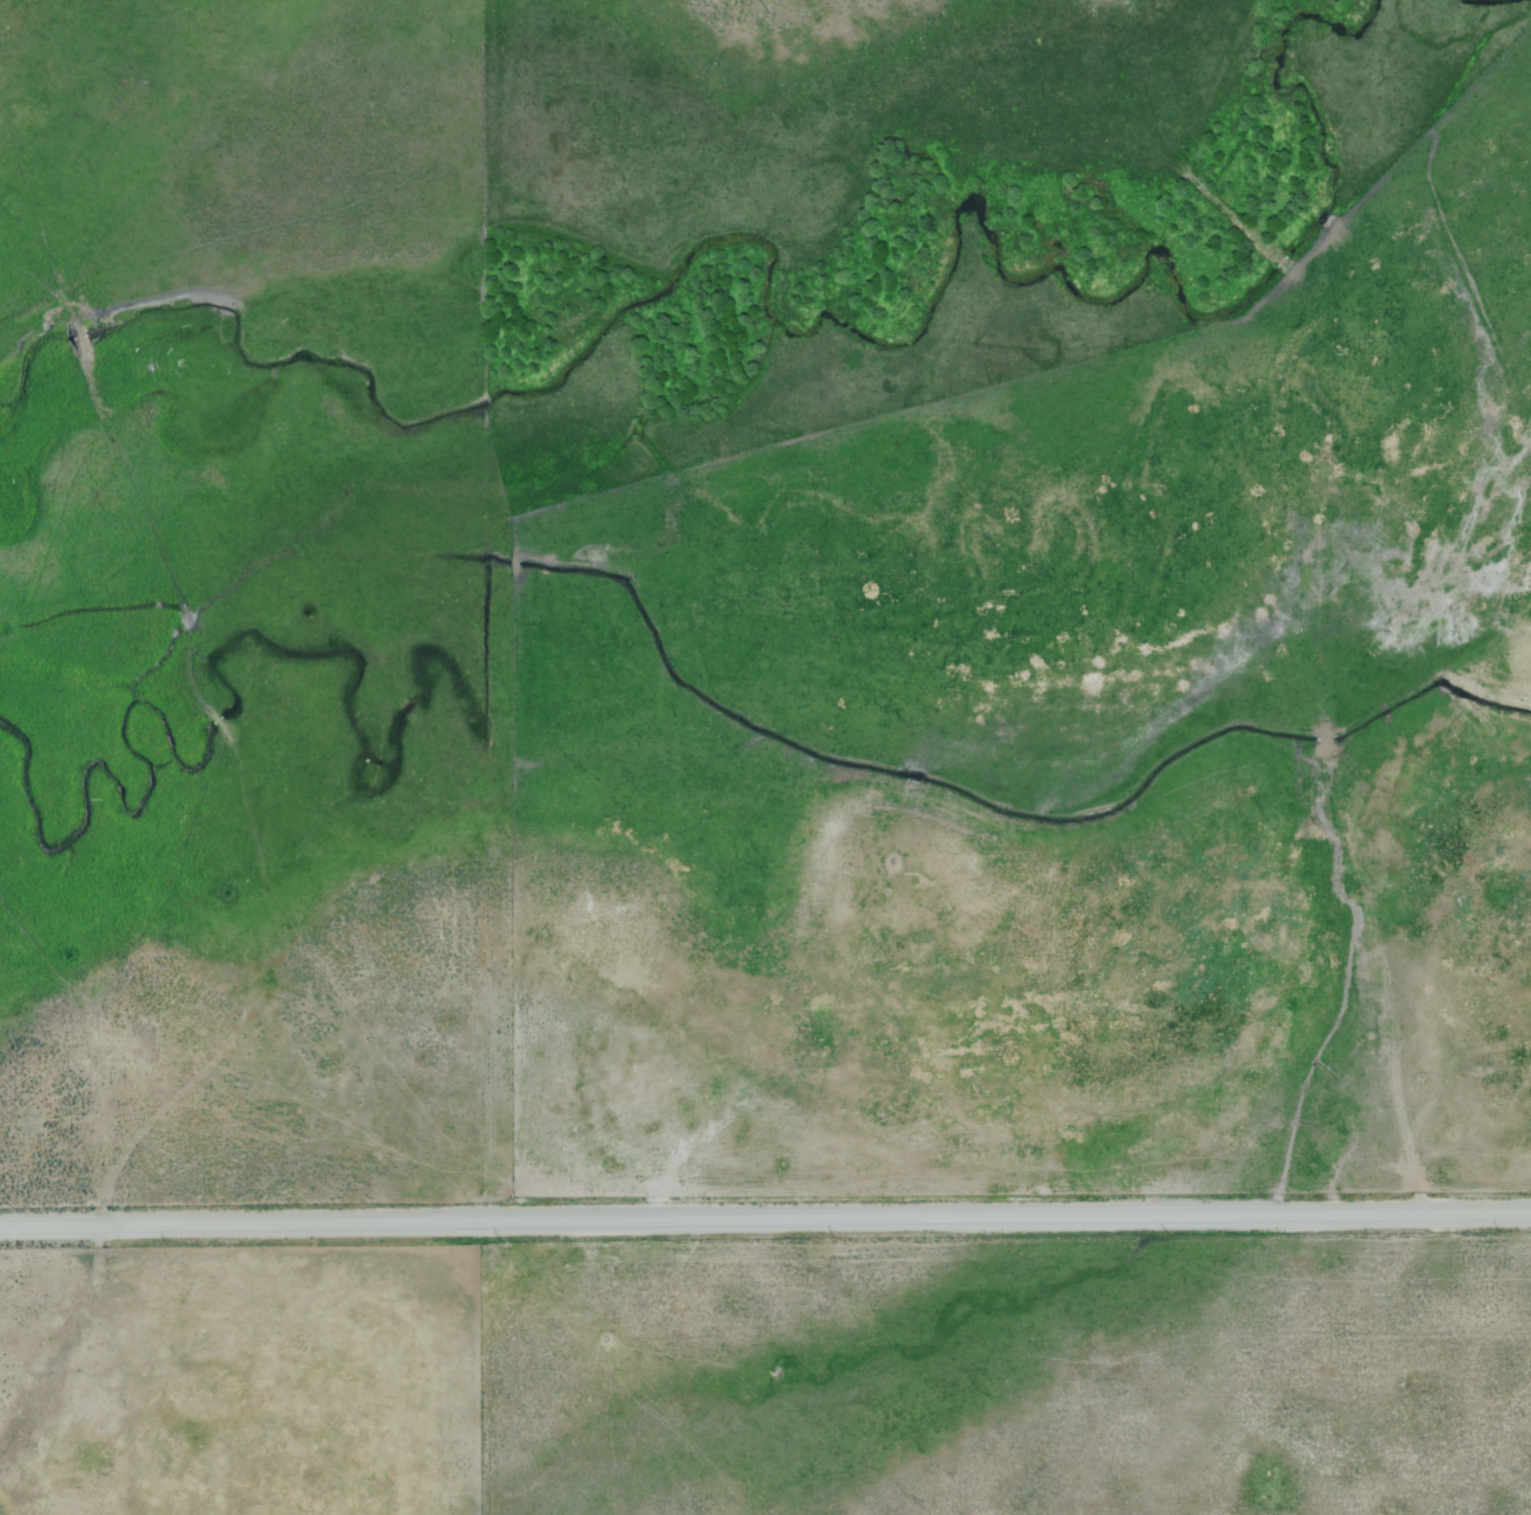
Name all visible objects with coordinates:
road: (765, 1270)

